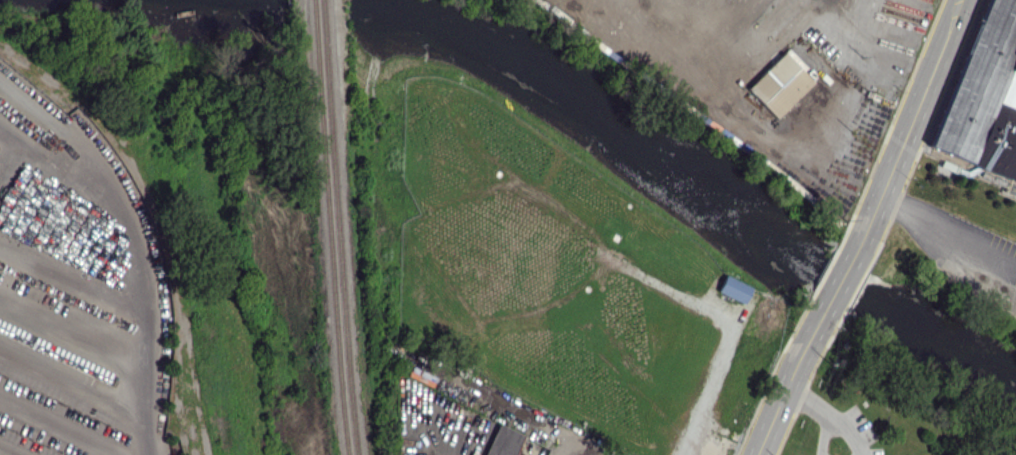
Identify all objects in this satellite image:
road: (931, 73)
building: (778, 85)
building: (984, 99)
river: (685, 168)
road: (889, 173)
railway: (335, 178)
road: (867, 223)
railway: (330, 227)
railway: (665, 227)
road: (947, 231)
road: (839, 281)
building: (733, 288)
road: (134, 307)
road: (706, 379)
road: (787, 385)
railway: (352, 405)
road: (501, 406)
road: (824, 414)
road: (829, 440)
building: (503, 441)
road: (568, 447)

